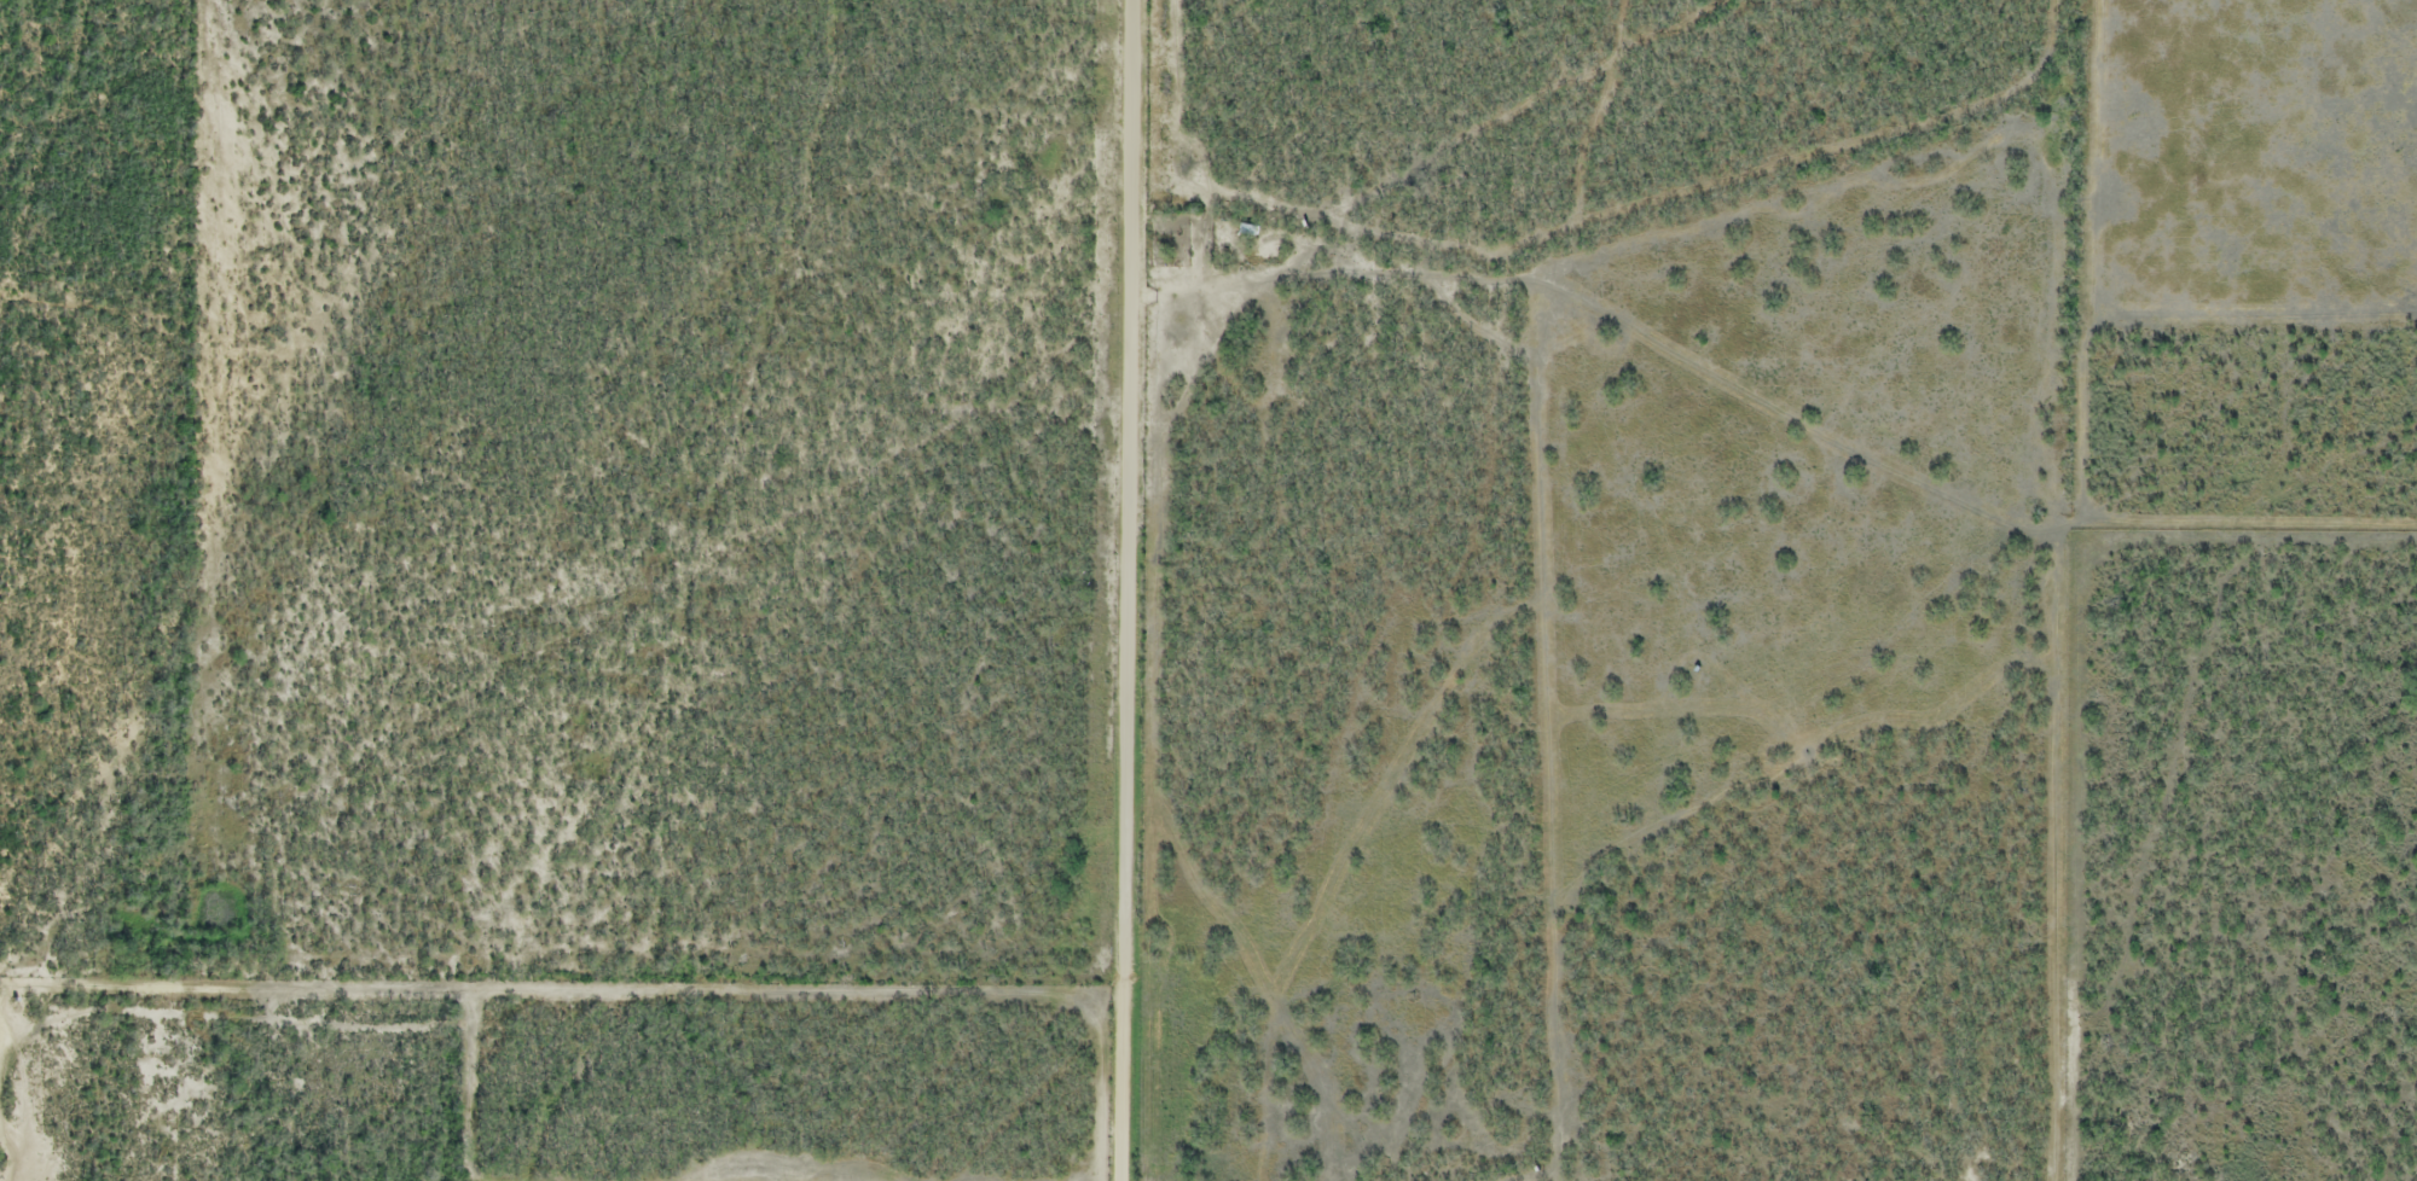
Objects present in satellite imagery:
building: (1247, 232)
road: (1128, 590)

